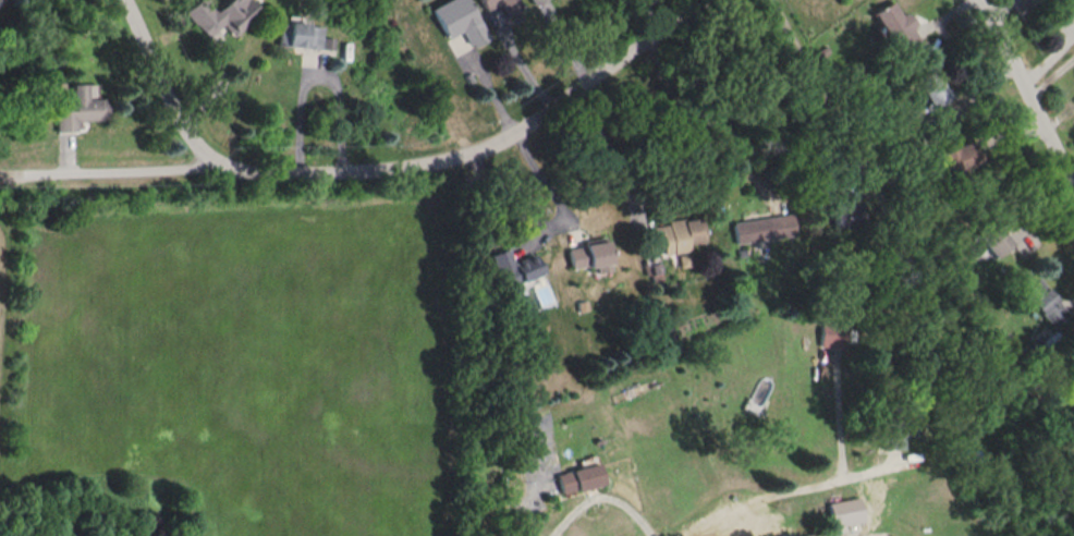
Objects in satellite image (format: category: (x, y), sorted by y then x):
building: (533, 0)
building: (501, 4)
building: (223, 15)
building: (457, 20)
building: (896, 26)
building: (302, 35)
road: (317, 74)
road: (1050, 80)
road: (160, 83)
road: (818, 85)
building: (933, 87)
road: (1024, 94)
building: (78, 107)
road: (705, 113)
building: (933, 126)
road: (606, 143)
road: (373, 170)
road: (542, 181)
road: (505, 197)
building: (846, 214)
building: (762, 228)
building: (676, 236)
building: (991, 237)
building: (588, 254)
building: (513, 268)
building: (1045, 302)
building: (832, 332)
building: (1072, 351)
building: (893, 428)
building: (577, 479)
road: (797, 486)
road: (602, 492)
road: (495, 508)
building: (844, 512)
road: (699, 525)
road: (767, 534)

